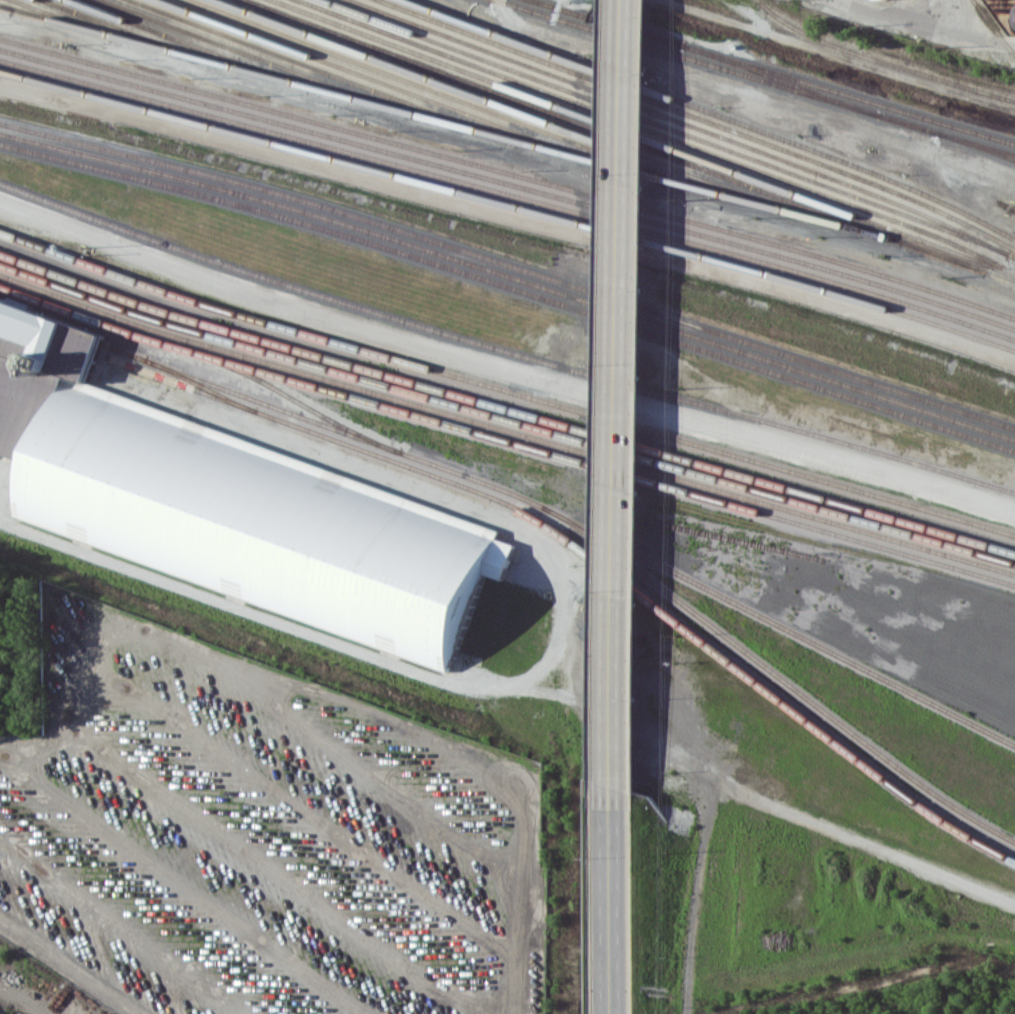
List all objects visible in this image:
railway: (5, 5)
railway: (978, 6)
railway: (60, 17)
railway: (993, 27)
railway: (125, 30)
railway: (815, 38)
railway: (190, 43)
railway: (255, 56)
railway: (318, 69)
railway: (774, 71)
railway: (758, 77)
railway: (780, 79)
railway: (383, 81)
railway: (947, 83)
railway: (448, 94)
railway: (513, 107)
railway: (716, 112)
railway: (697, 118)
railway: (577, 119)
railway: (682, 119)
railway: (674, 127)
railway: (663, 132)
railway: (510, 136)
railway: (647, 136)
railway: (976, 147)
railway: (509, 173)
railway: (509, 182)
railway: (508, 194)
railway: (508, 206)
road: (510, 215)
railway: (510, 264)
railway: (510, 275)
railway: (510, 285)
railway: (503, 348)
road: (502, 372)
railway: (201, 384)
railway: (505, 388)
railway: (292, 396)
railway: (506, 406)
railway: (505, 417)
railway: (505, 427)
railway: (506, 438)
railway: (543, 505)
building: (221, 506)
road: (621, 507)
railway: (543, 522)
road: (562, 568)
railway: (778, 624)

